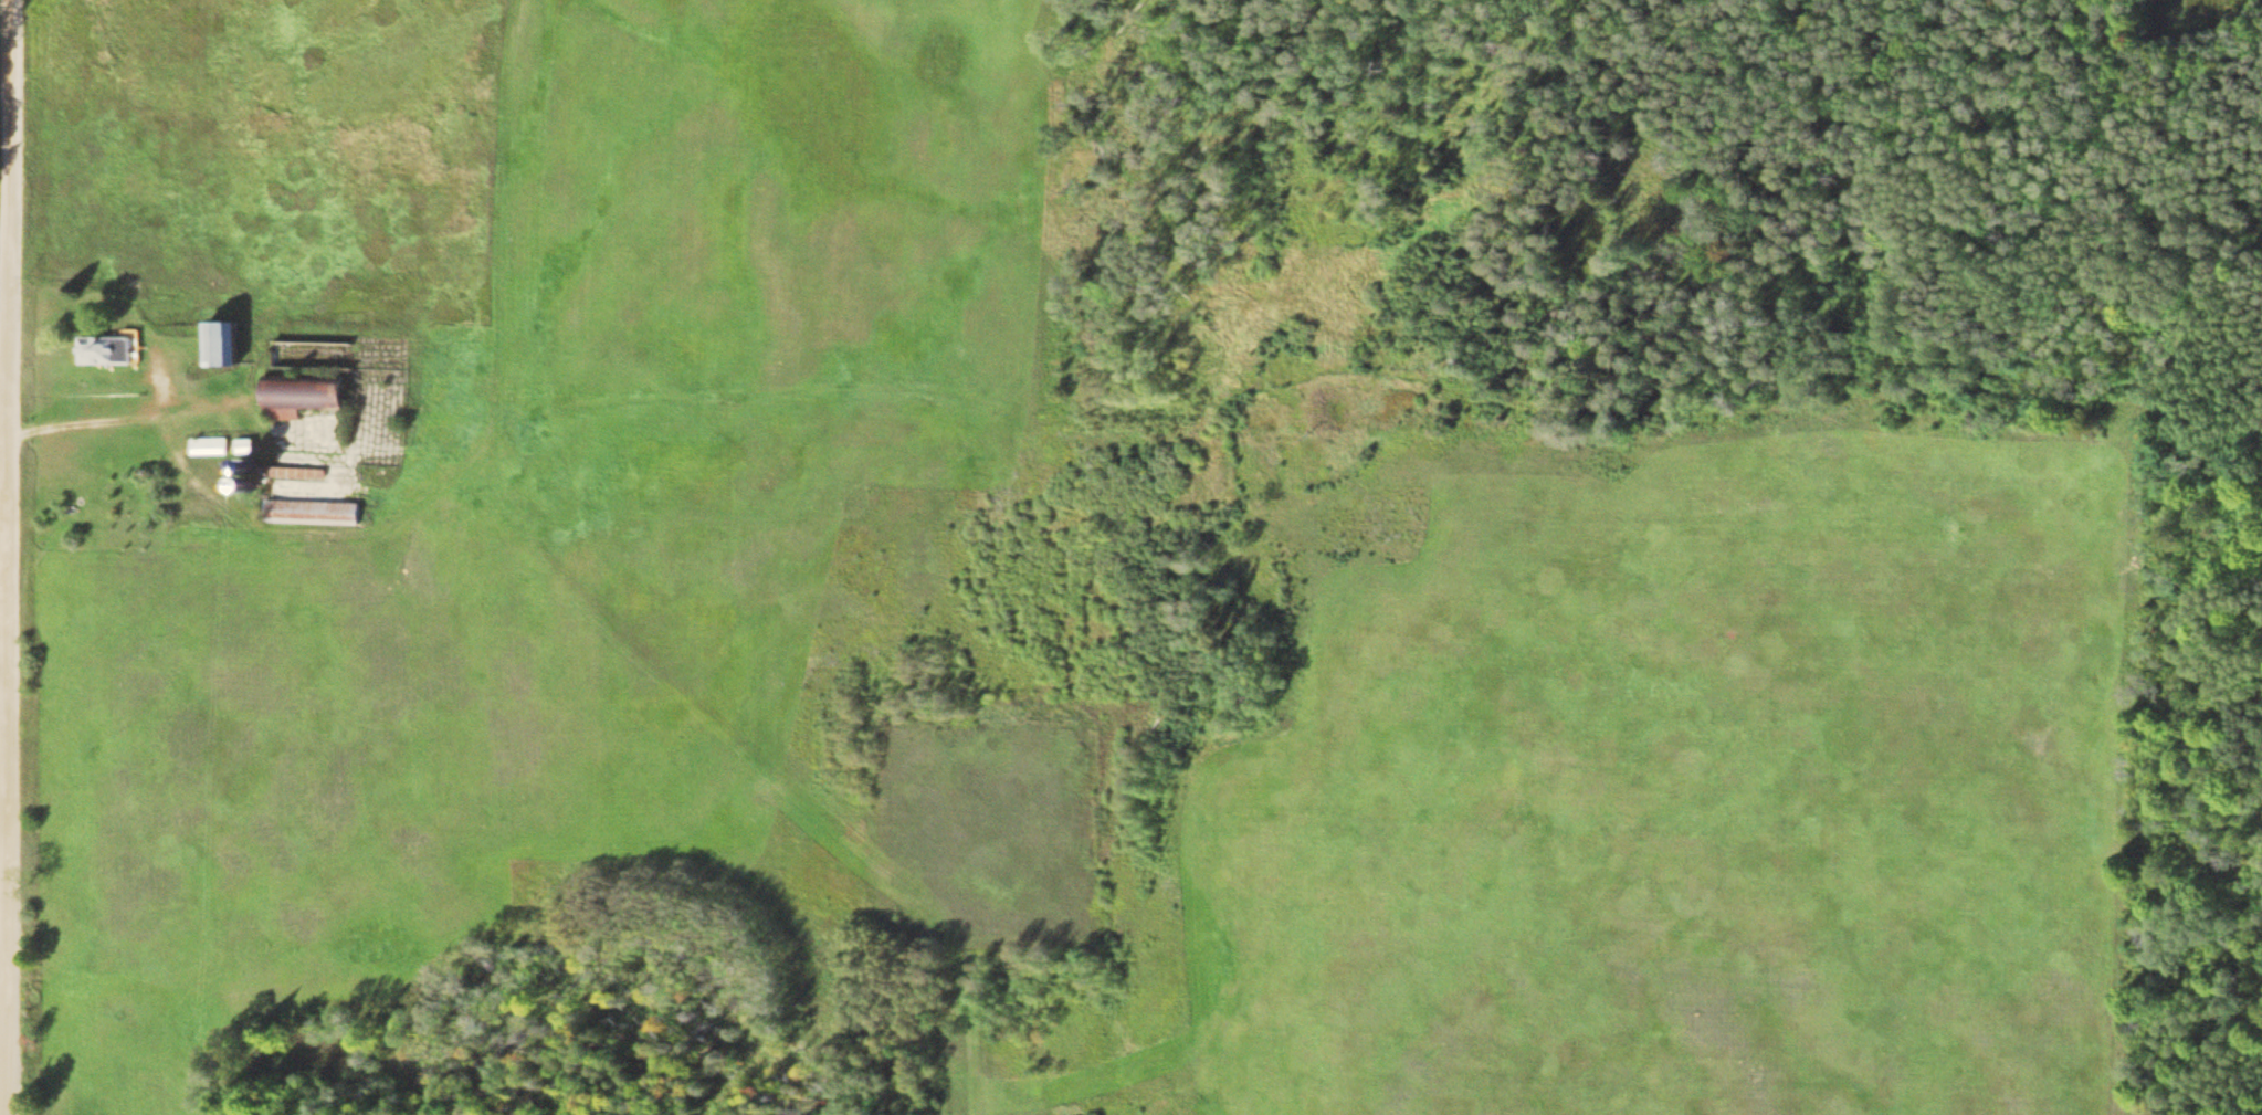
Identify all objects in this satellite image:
building: (220, 345)
building: (105, 350)
building: (302, 392)
building: (298, 472)
building: (313, 512)
road: (9, 557)

